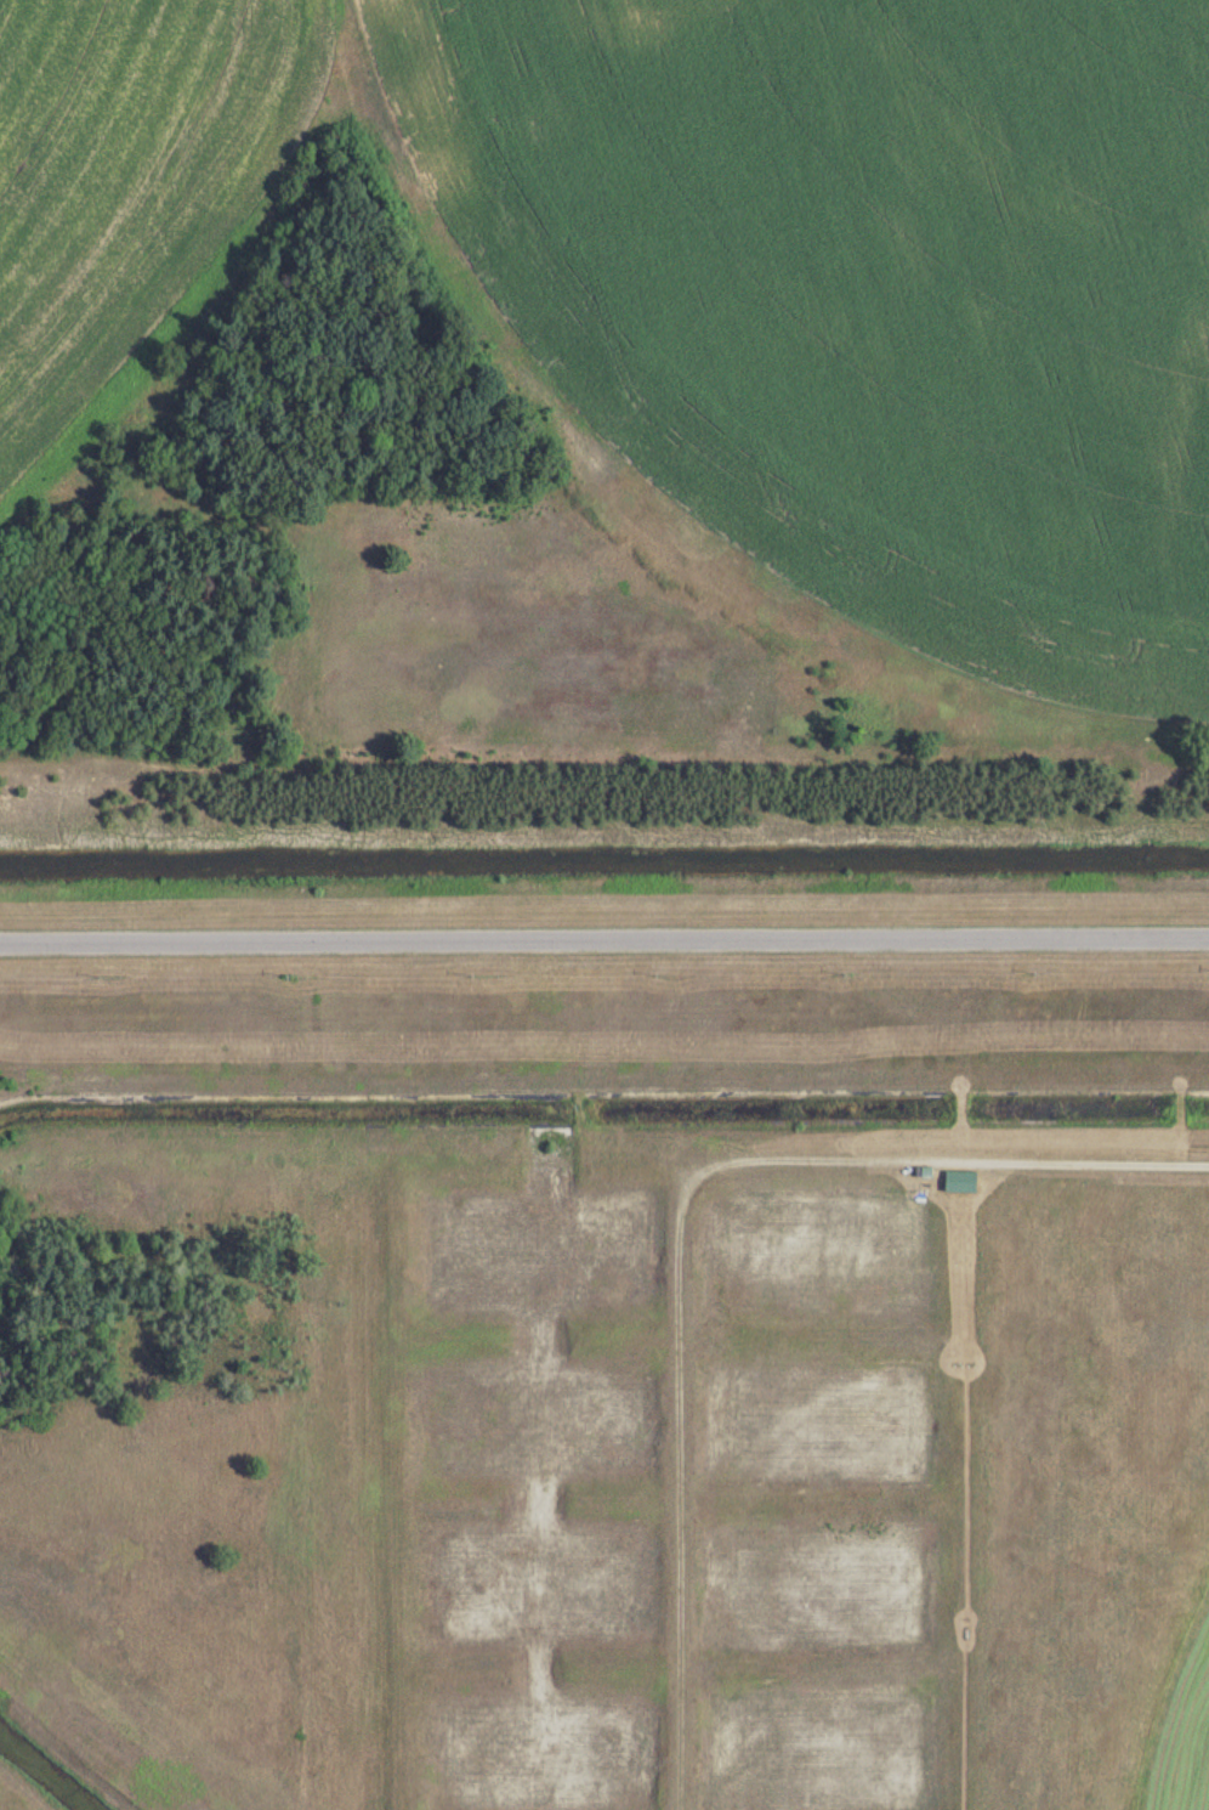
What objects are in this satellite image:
wastewater plant: (604, 905)
road: (604, 938)
road: (1086, 1158)

